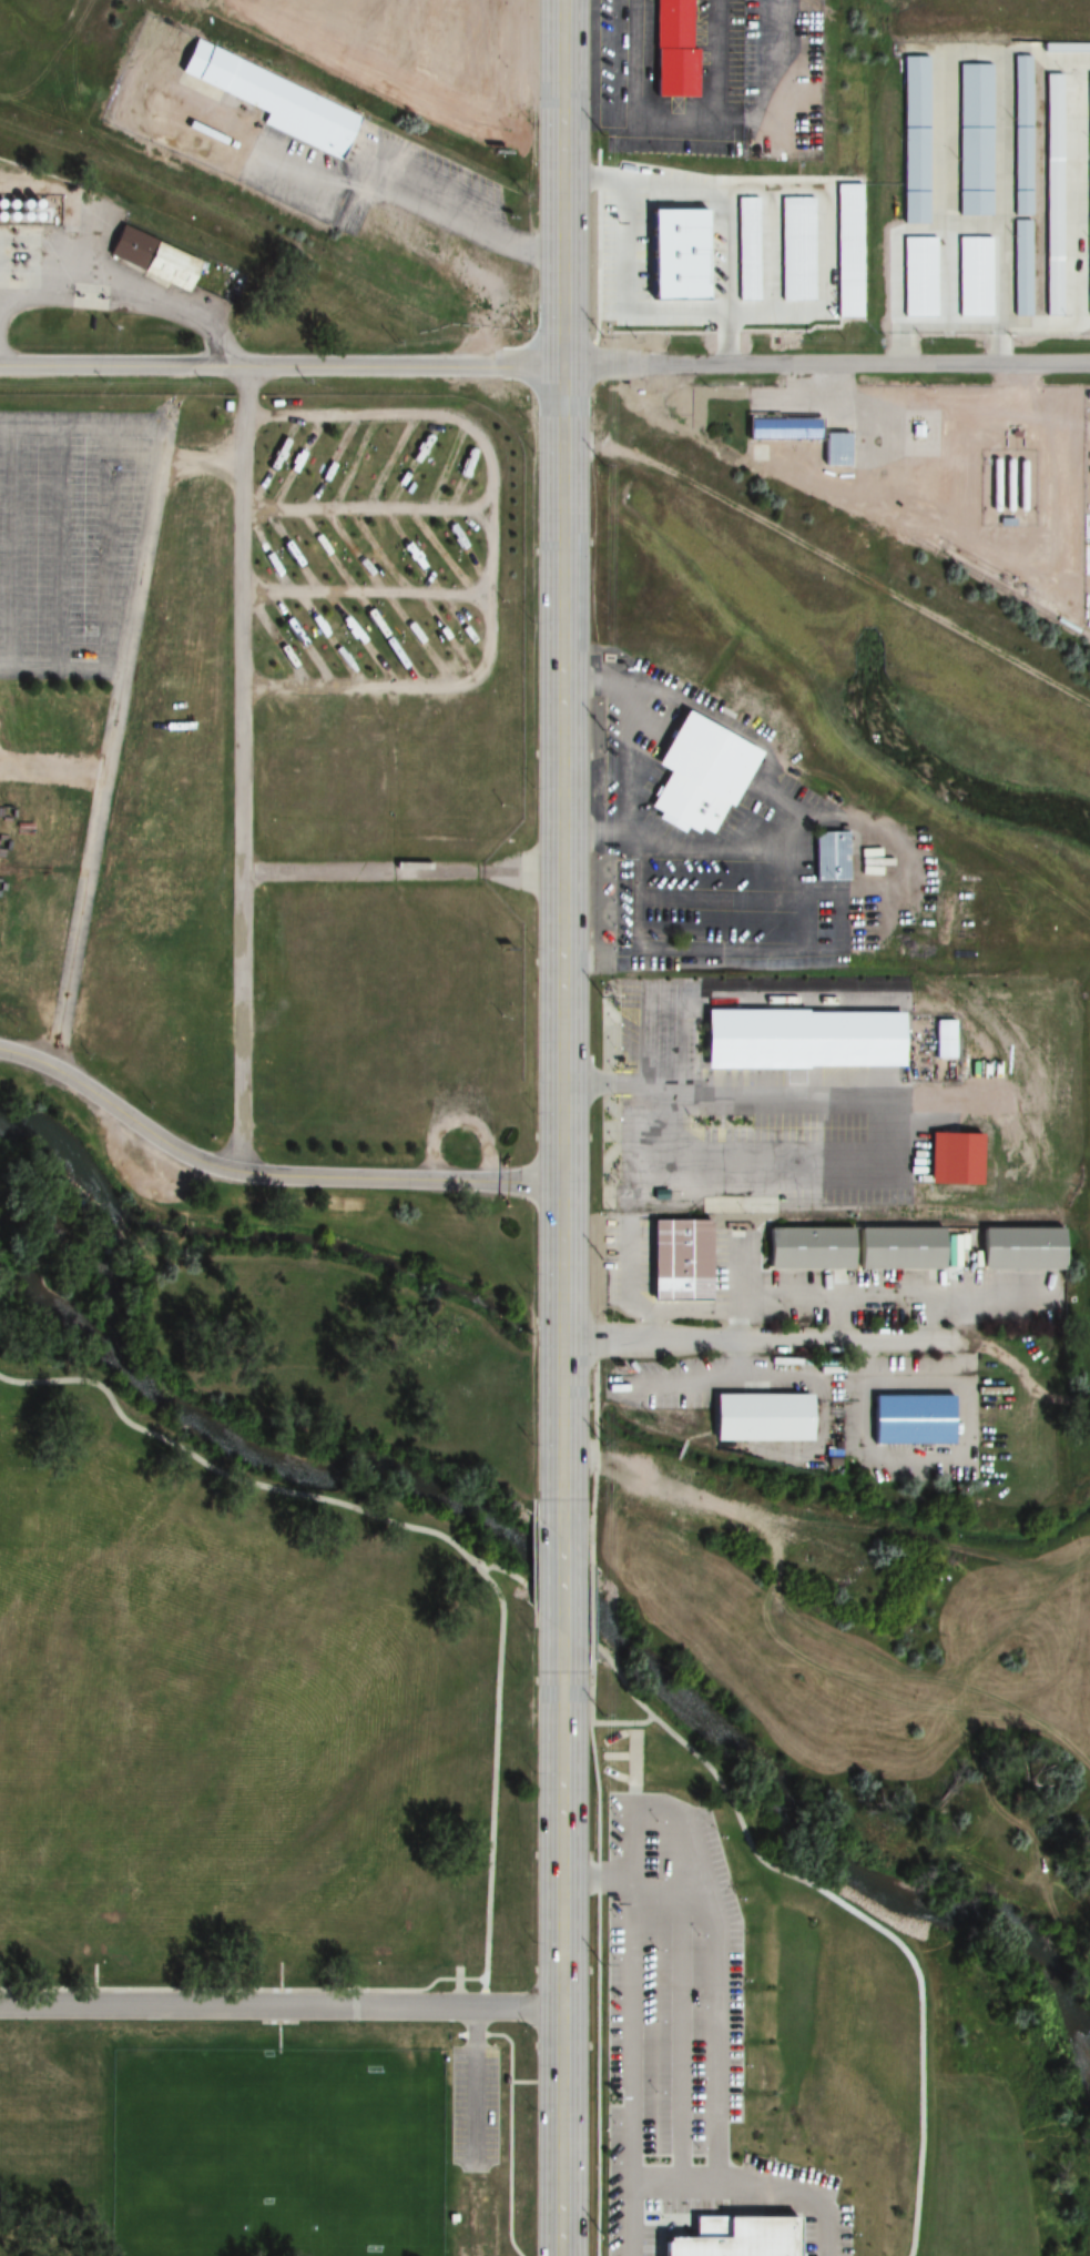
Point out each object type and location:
building: (686, 48)
building: (274, 101)
building: (914, 140)
building: (974, 140)
building: (1058, 172)
road: (563, 182)
building: (682, 252)
building: (150, 259)
building: (1021, 267)
building: (939, 291)
road: (281, 364)
road: (826, 364)
railway: (558, 374)
building: (782, 428)
building: (835, 449)
parking lot: (71, 537)
building: (703, 772)
building: (828, 857)
road: (564, 931)
building: (799, 1040)
building: (670, 1060)
road: (266, 1174)
building: (852, 1248)
building: (1019, 1250)
building: (679, 1261)
road: (770, 1341)
building: (760, 1418)
building: (909, 1419)
river: (539, 1565)
road: (562, 1584)
park: (230, 1723)
building: (676, 1843)
road: (562, 1963)
road: (281, 2005)
road: (508, 2123)
park: (276, 2152)
building: (748, 2236)

